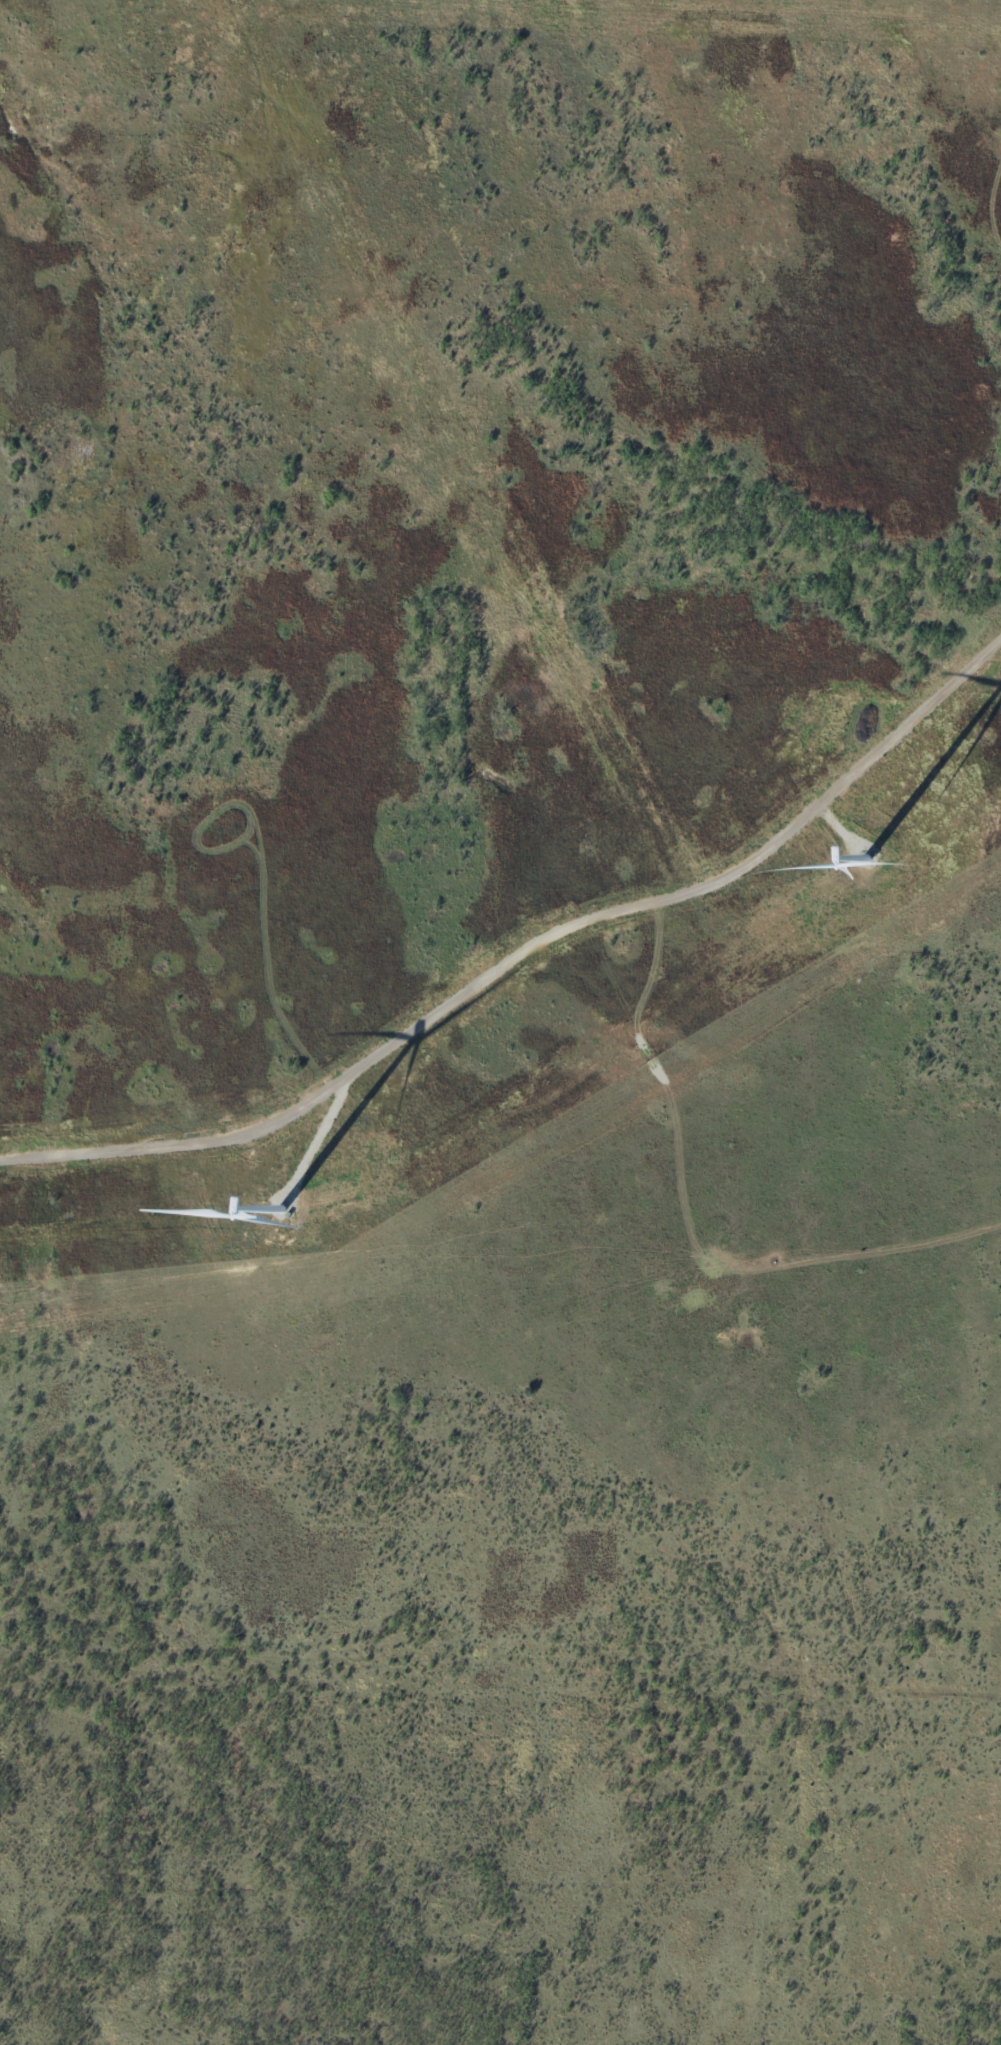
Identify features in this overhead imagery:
wind turbine: (864, 859)
wind turbine: (278, 1213)

